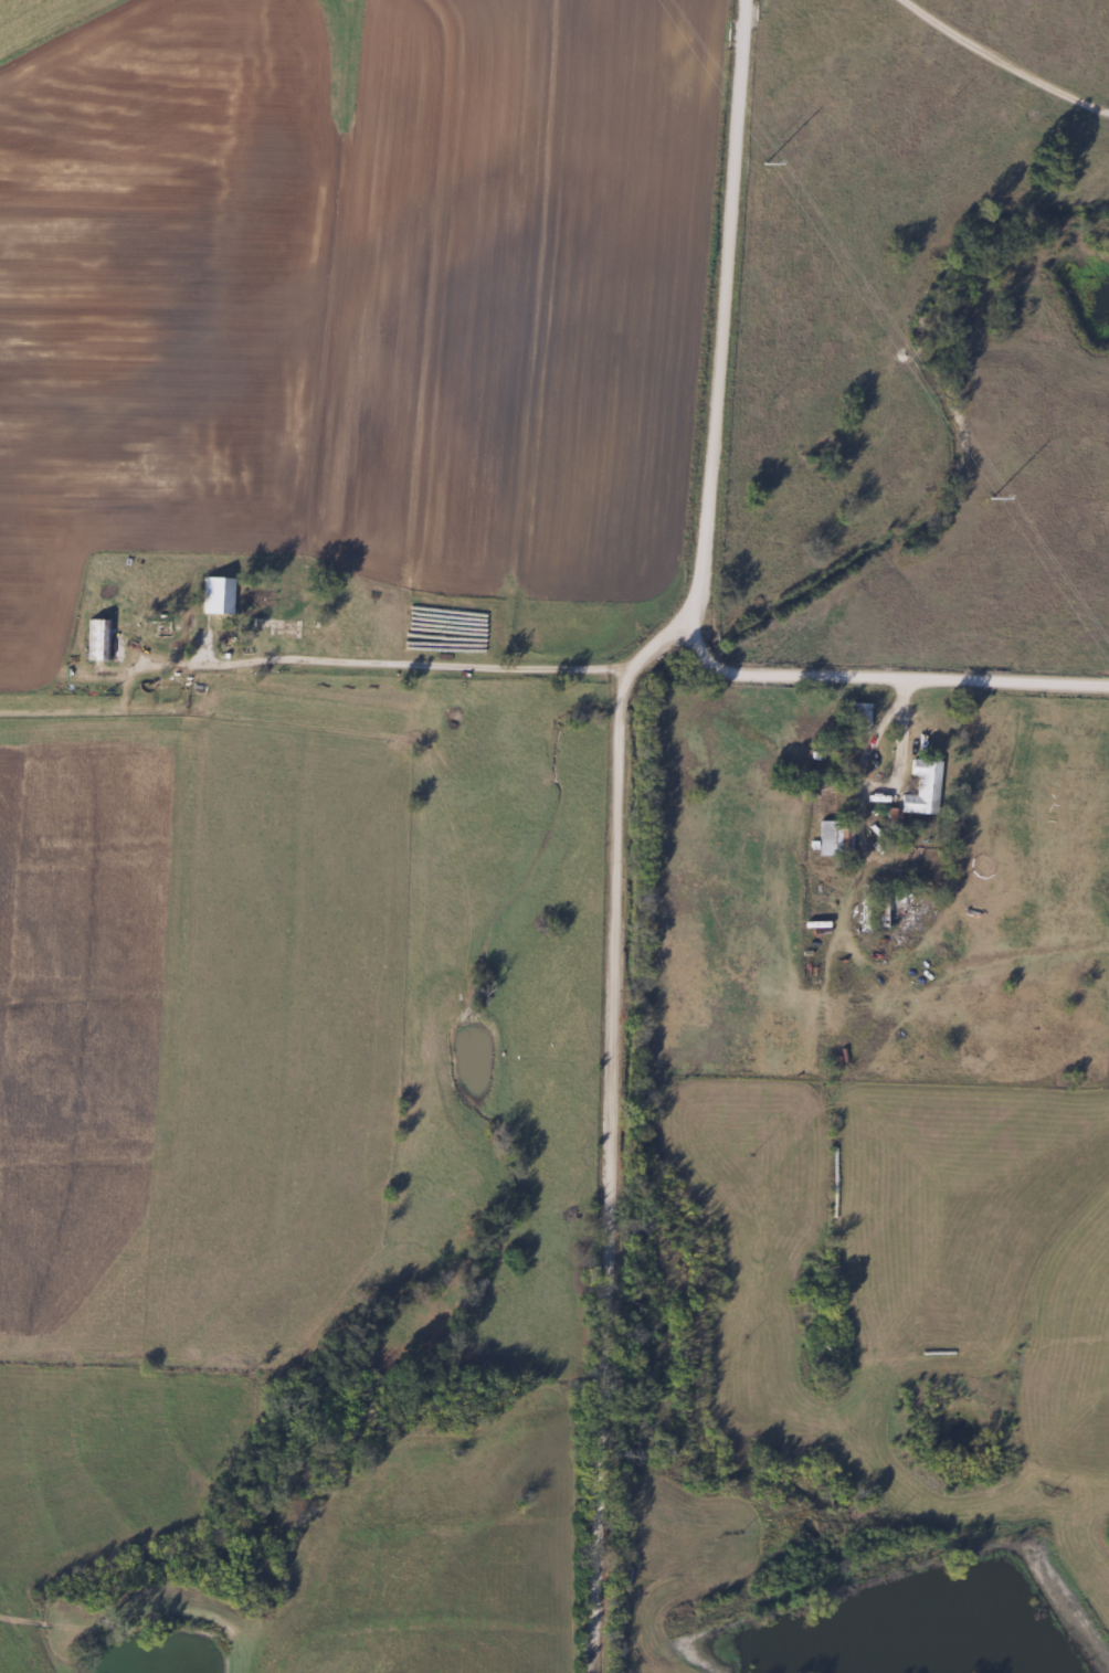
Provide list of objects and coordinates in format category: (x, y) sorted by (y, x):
road: (1001, 63)
road: (717, 335)
building: (119, 636)
road: (378, 665)
building: (918, 792)
road: (867, 796)
building: (841, 835)
road: (598, 909)
building: (890, 911)

